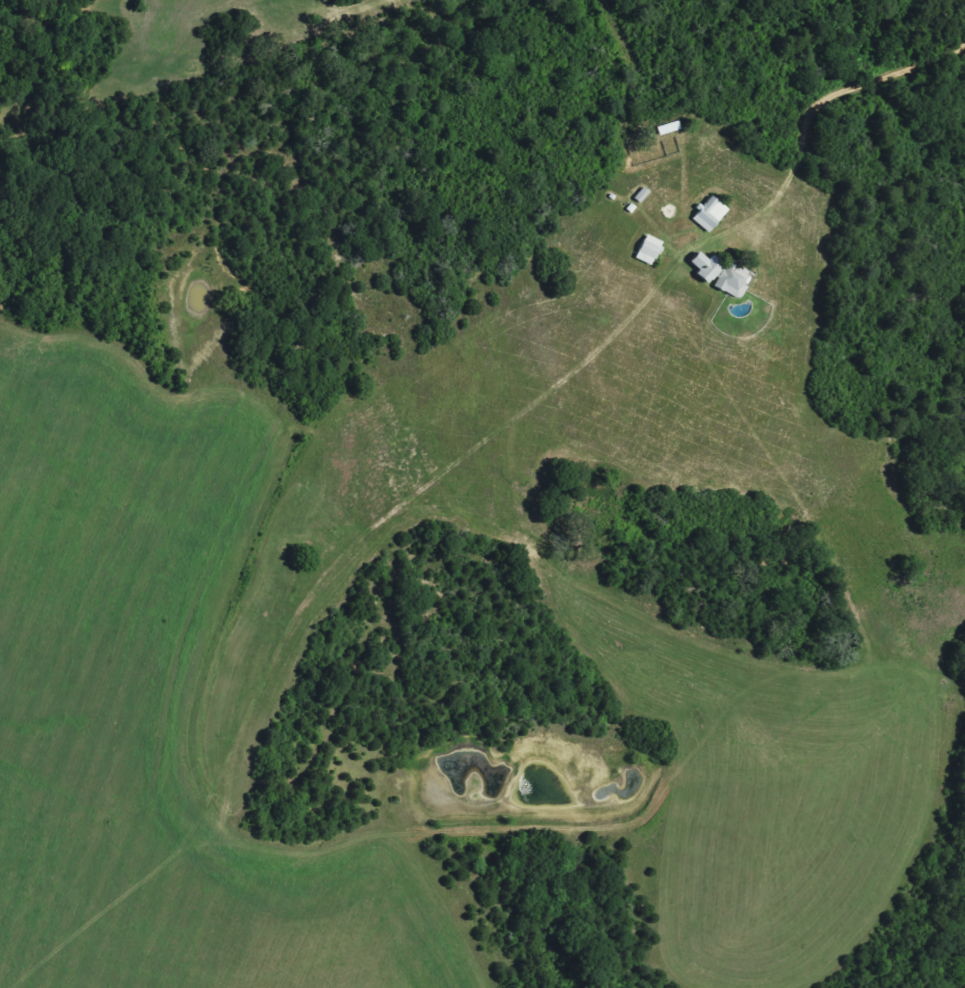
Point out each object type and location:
road: (808, 112)
building: (671, 130)
building: (712, 216)
building: (651, 252)
building: (724, 277)

